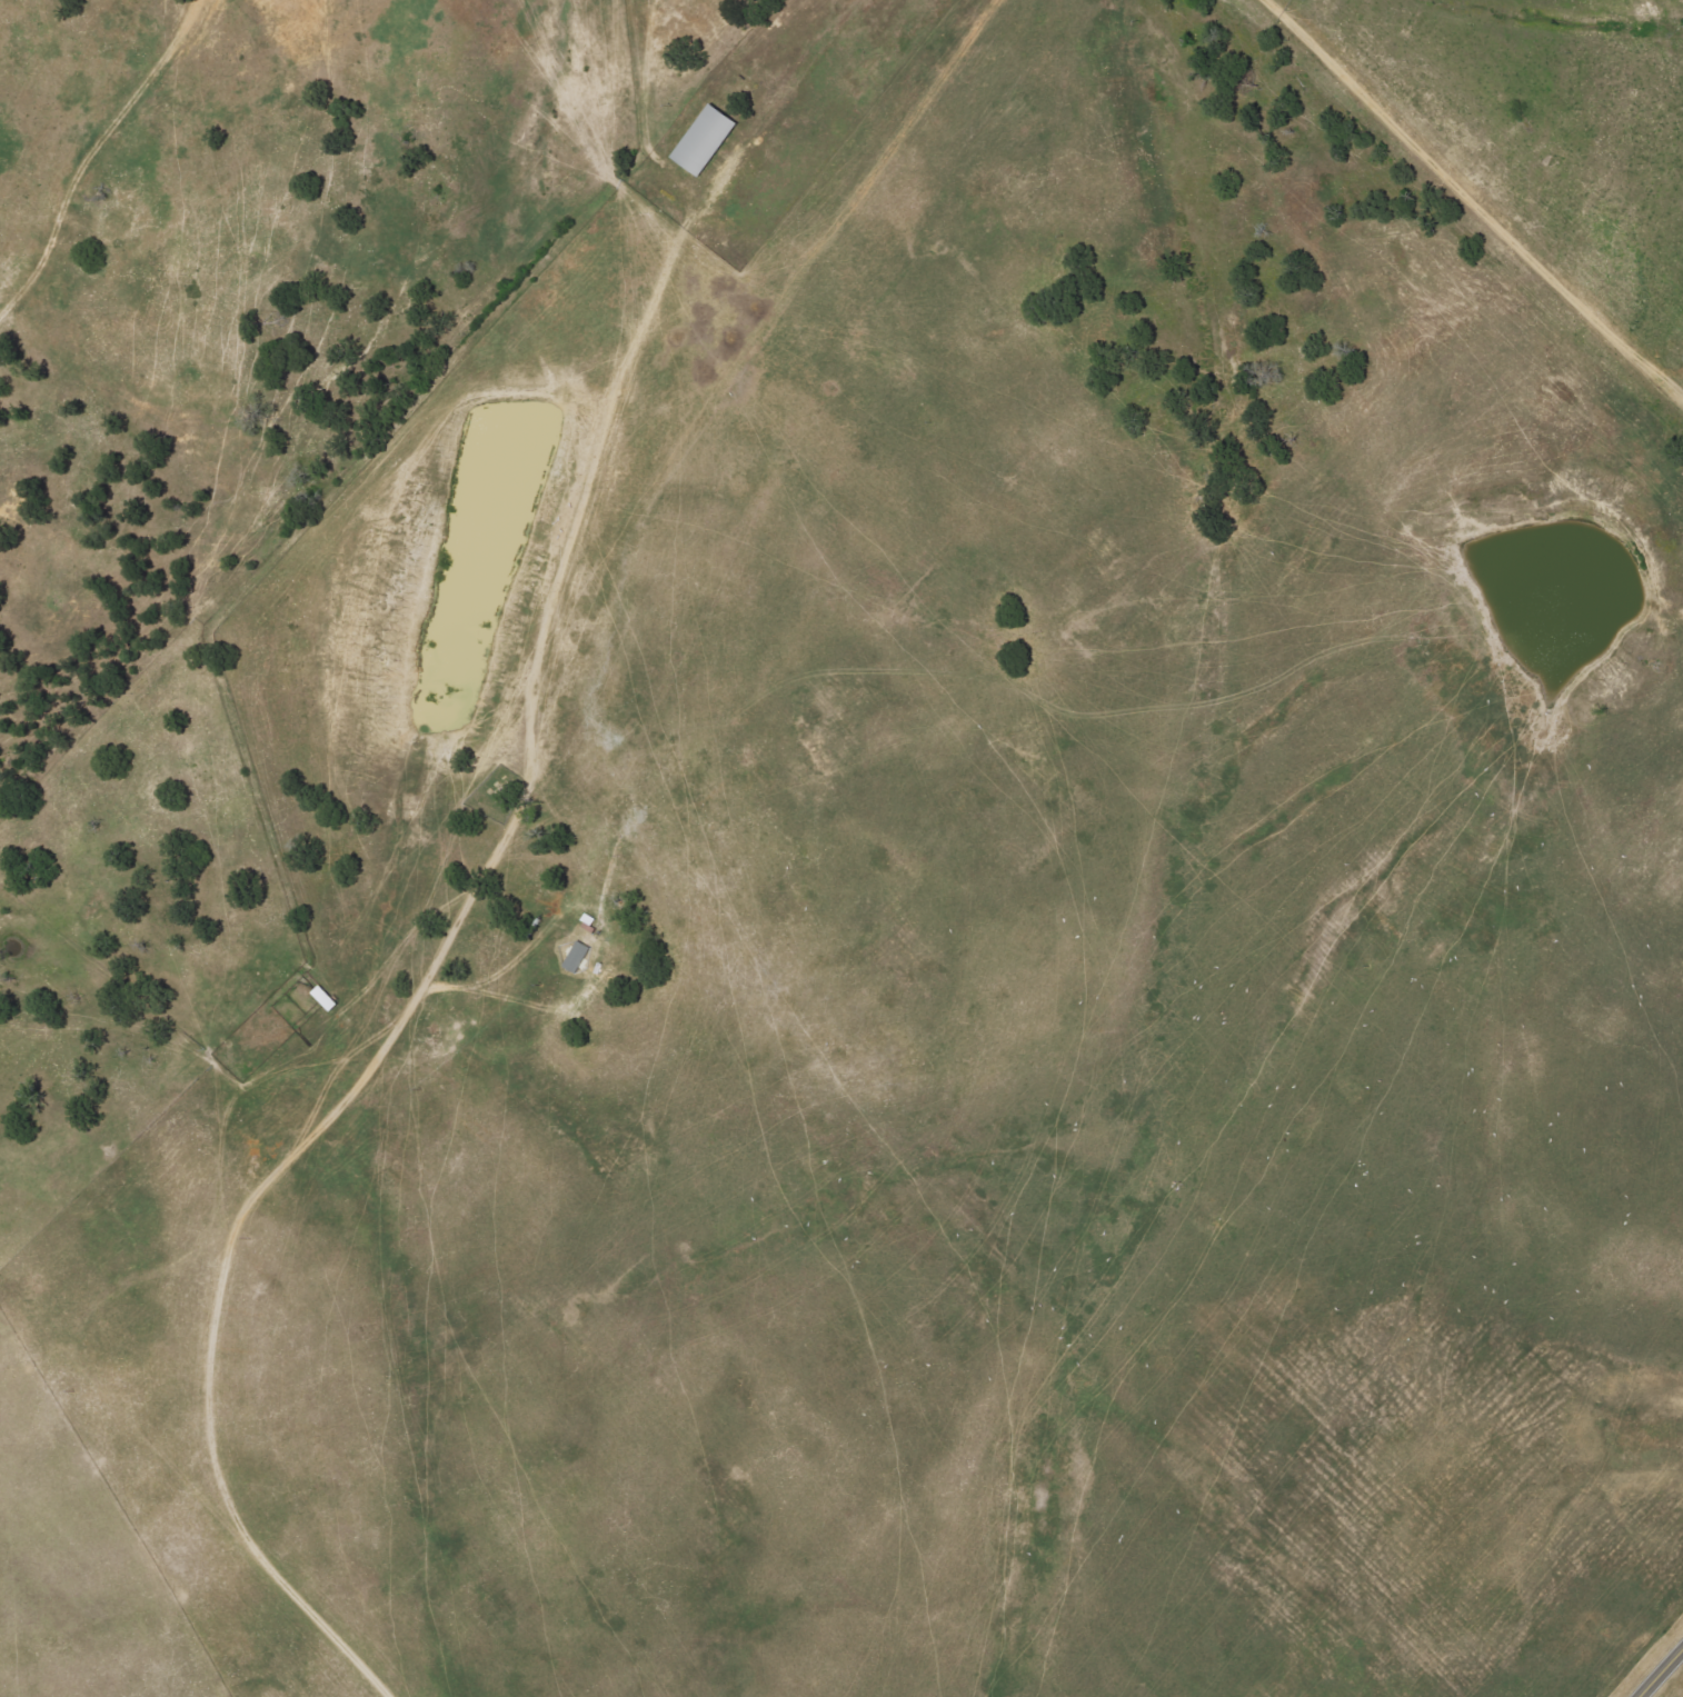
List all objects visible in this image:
building: (708, 139)
building: (579, 957)
road: (1661, 1675)

